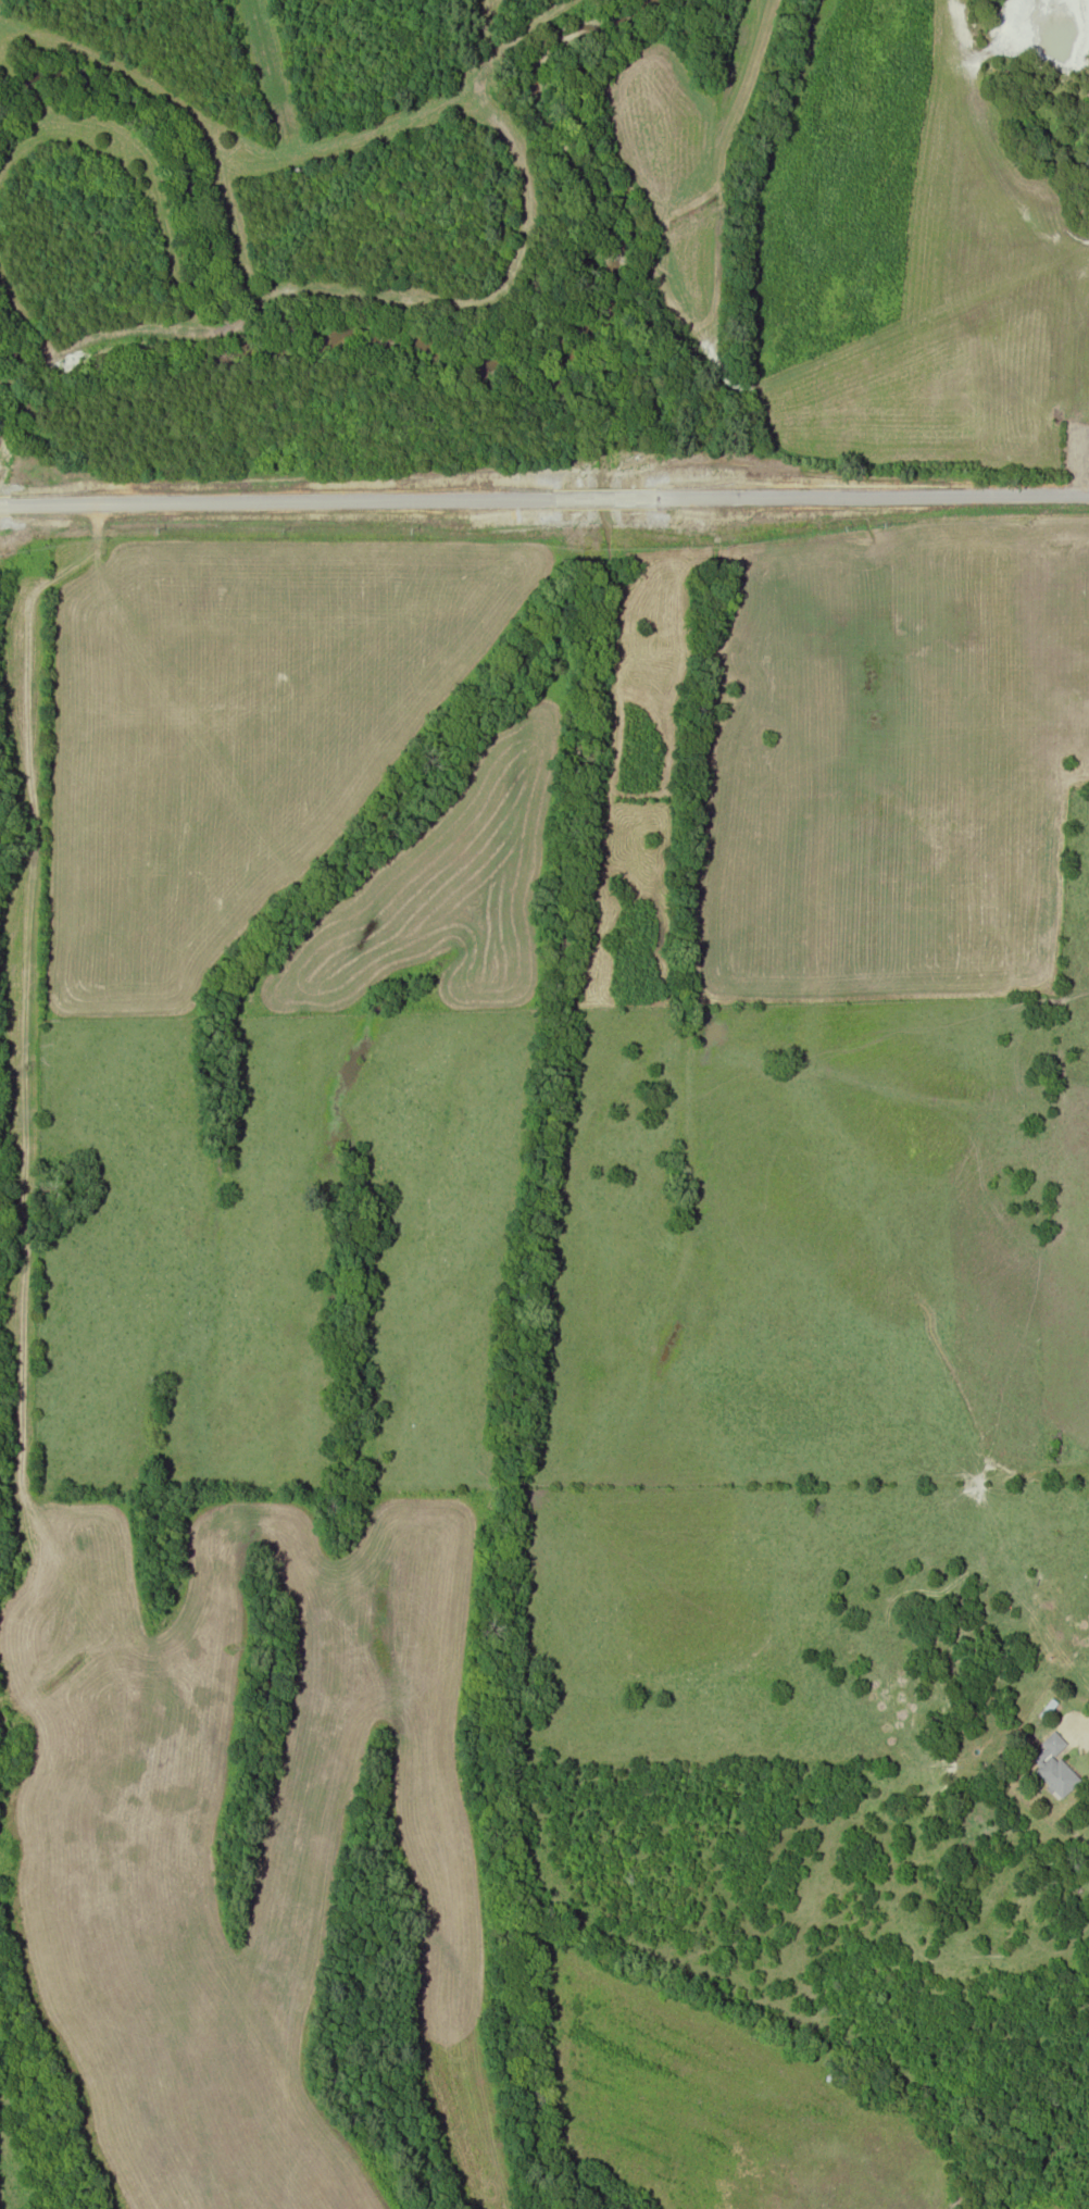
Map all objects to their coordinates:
road: (572, 492)
road: (26, 497)
building: (1053, 1767)

